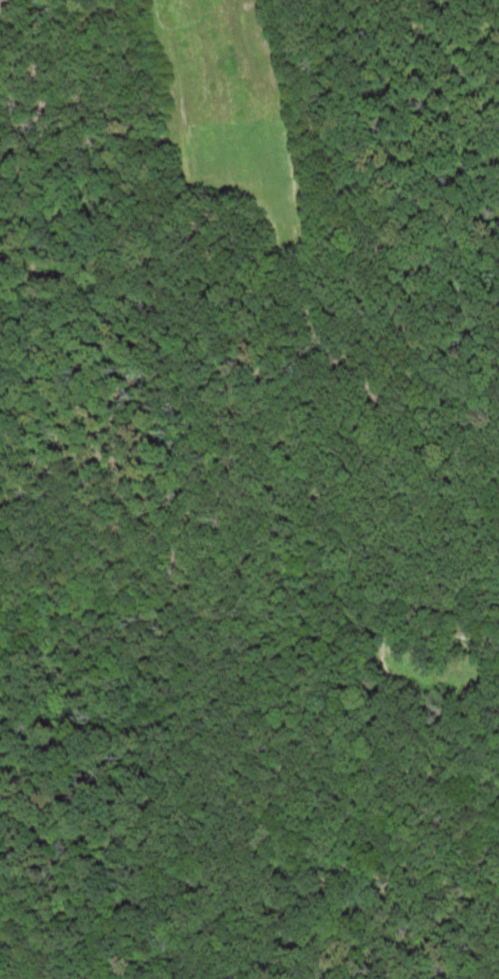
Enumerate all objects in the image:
road: (247, 375)

